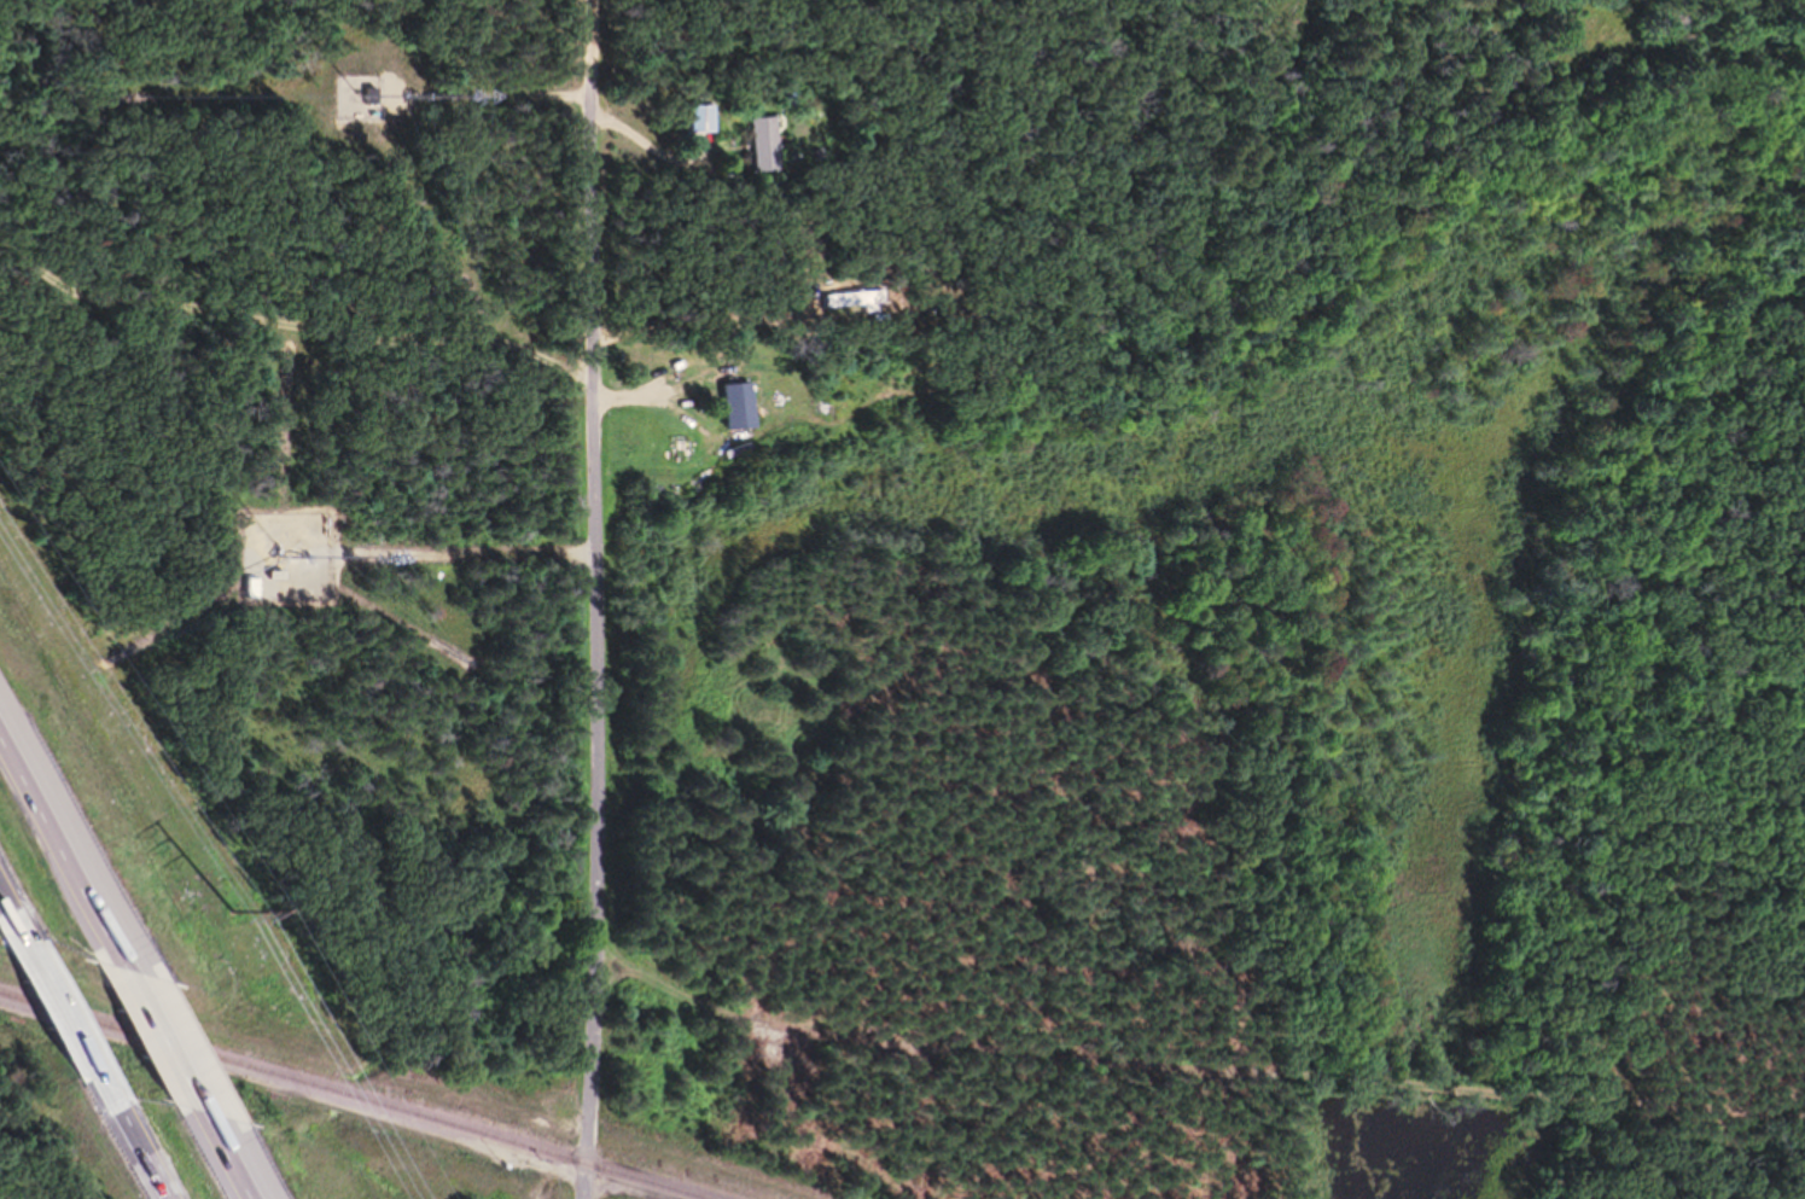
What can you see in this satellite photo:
road: (499, 98)
building: (378, 99)
building: (705, 122)
building: (767, 147)
building: (862, 301)
road: (639, 401)
building: (747, 409)
road: (470, 557)
road: (599, 599)
road: (66, 844)
road: (18, 908)
power tower: (228, 910)
road: (76, 1015)
road: (173, 1041)
railway: (357, 1095)
road: (145, 1145)
road: (235, 1157)

